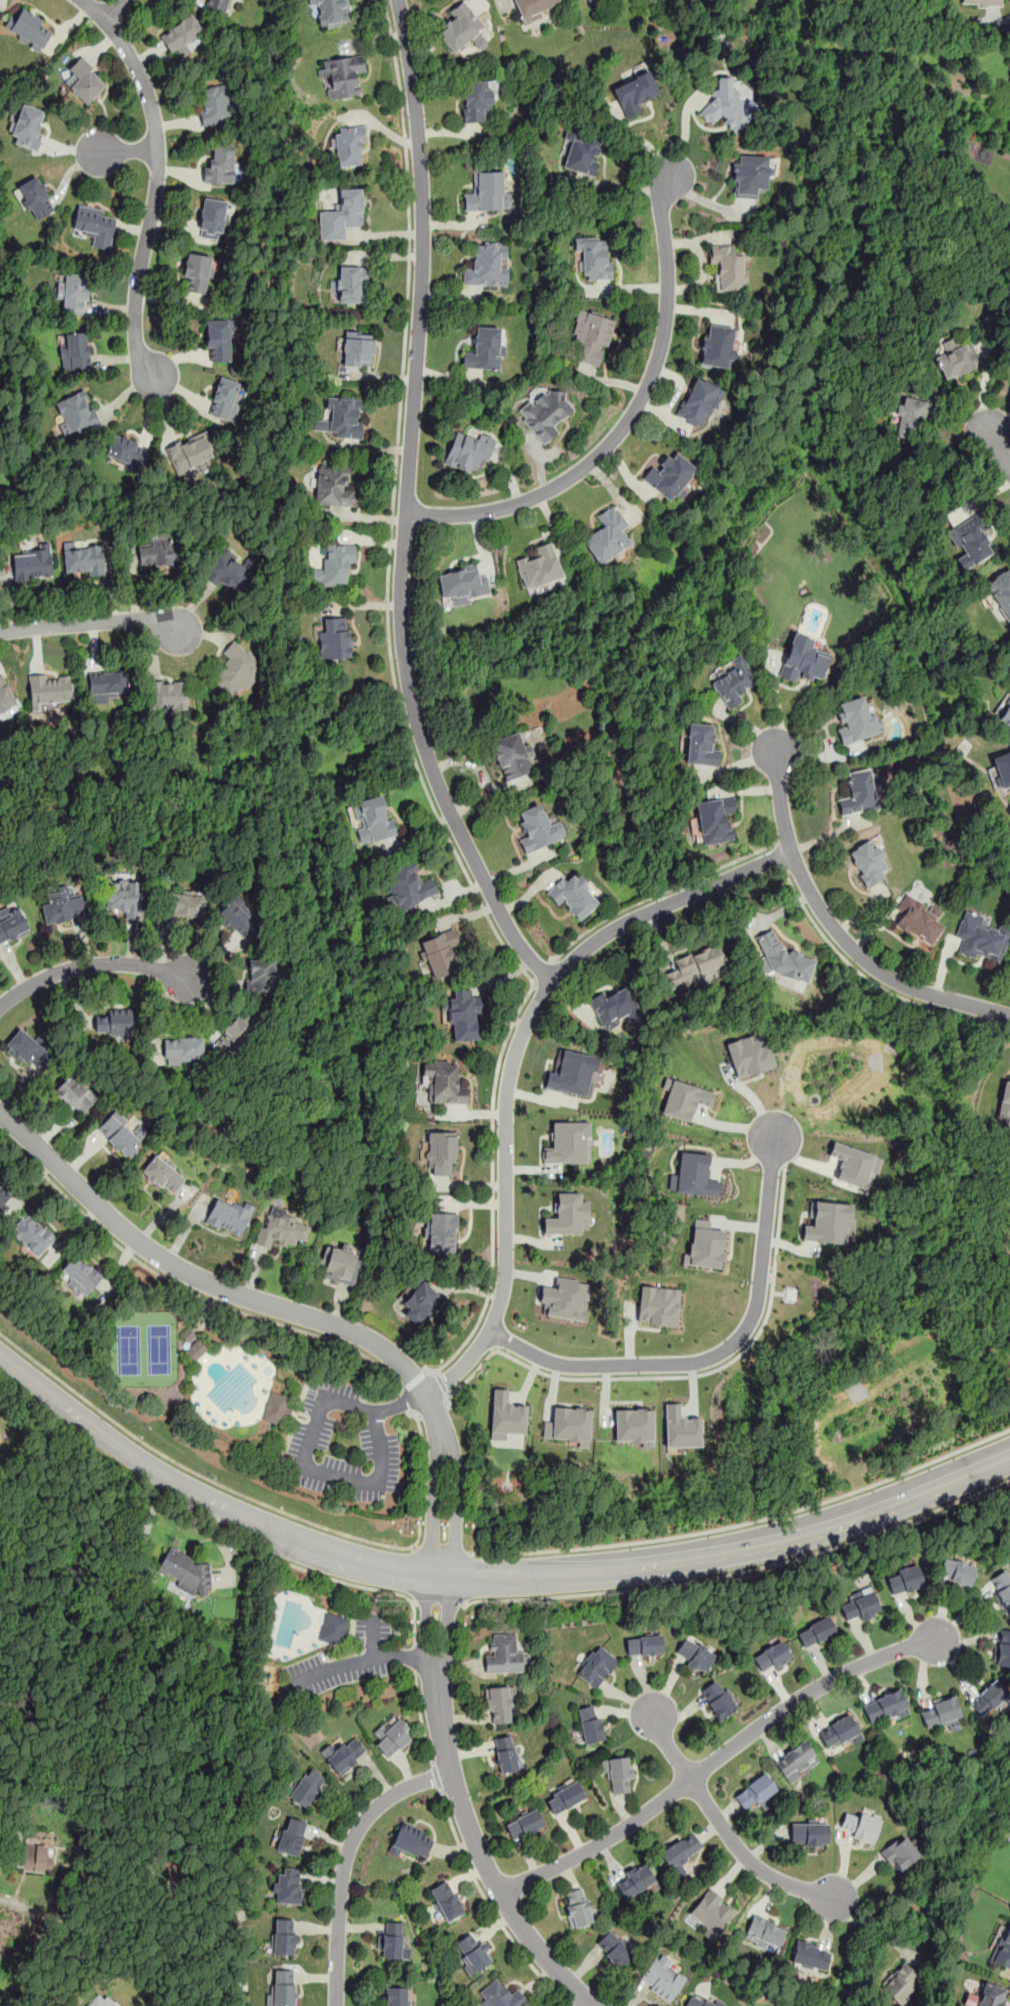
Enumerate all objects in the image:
building: (586, 0)
building: (981, 3)
building: (216, 5)
road: (112, 8)
building: (534, 9)
building: (330, 12)
road: (1000, 18)
building: (460, 28)
building: (28, 29)
building: (181, 35)
building: (341, 76)
building: (84, 82)
building: (634, 93)
building: (476, 101)
building: (215, 105)
building: (727, 106)
building: (27, 126)
building: (348, 147)
road: (127, 151)
building: (582, 152)
building: (220, 165)
building: (750, 175)
road: (156, 182)
building: (487, 193)
building: (35, 198)
road: (709, 203)
building: (342, 216)
building: (212, 219)
building: (95, 226)
building: (594, 257)
building: (487, 265)
building: (727, 268)
building: (196, 274)
building: (351, 285)
building: (73, 293)
building: (219, 338)
building: (591, 339)
building: (718, 346)
building: (358, 350)
building: (485, 350)
building: (74, 351)
building: (956, 359)
building: (225, 399)
building: (698, 402)
building: (545, 412)
building: (75, 414)
building: (913, 416)
building: (342, 418)
road: (628, 419)
road: (1001, 450)
building: (127, 452)
building: (468, 452)
building: (190, 454)
building: (670, 476)
building: (333, 486)
road: (406, 507)
building: (607, 535)
building: (969, 539)
building: (158, 551)
building: (84, 559)
building: (32, 563)
building: (335, 563)
building: (540, 567)
building: (229, 570)
building: (462, 585)
building: (1000, 592)
road: (89, 624)
building: (334, 638)
building: (802, 659)
building: (236, 670)
building: (732, 681)
building: (106, 684)
building: (49, 688)
building: (168, 694)
building: (6, 698)
building: (1004, 711)
road: (401, 718)
building: (858, 720)
building: (700, 745)
building: (511, 756)
building: (1001, 770)
building: (860, 792)
road: (782, 800)
building: (371, 818)
building: (714, 818)
building: (538, 829)
road: (777, 855)
building: (867, 863)
building: (407, 885)
road: (662, 891)
building: (574, 894)
building: (125, 898)
building: (184, 903)
building: (63, 907)
building: (238, 917)
building: (918, 920)
building: (11, 923)
building: (981, 937)
building: (439, 953)
building: (779, 957)
road: (91, 965)
building: (697, 966)
road: (873, 968)
road: (542, 971)
building: (262, 976)
road: (873, 981)
building: (614, 1008)
building: (465, 1015)
building: (113, 1023)
building: (236, 1033)
building: (182, 1048)
building: (29, 1050)
building: (750, 1054)
road: (513, 1060)
building: (571, 1072)
building: (444, 1083)
building: (75, 1094)
building: (683, 1098)
building: (1004, 1100)
building: (120, 1132)
building: (568, 1143)
building: (441, 1151)
building: (850, 1164)
building: (162, 1172)
building: (693, 1175)
building: (4, 1193)
building: (229, 1215)
building: (567, 1215)
building: (827, 1222)
building: (280, 1231)
building: (33, 1234)
building: (443, 1234)
building: (704, 1246)
building: (340, 1263)
building: (82, 1273)
road: (185, 1288)
building: (564, 1298)
building: (420, 1300)
building: (658, 1305)
road: (286, 1309)
park: (143, 1348)
building: (196, 1349)
road: (719, 1352)
road: (677, 1376)
road: (414, 1380)
road: (440, 1382)
road: (381, 1397)
road: (408, 1399)
road: (402, 1402)
building: (277, 1408)
building: (505, 1415)
building: (567, 1424)
building: (634, 1426)
building: (680, 1427)
road: (311, 1469)
road: (254, 1499)
road: (745, 1522)
road: (440, 1550)
road: (742, 1570)
building: (957, 1571)
building: (187, 1572)
road: (482, 1575)
building: (904, 1579)
road: (362, 1585)
building: (1001, 1588)
road: (440, 1601)
building: (860, 1607)
building: (333, 1628)
building: (816, 1633)
building: (644, 1645)
building: (1003, 1648)
building: (505, 1654)
road: (405, 1655)
building: (694, 1655)
road: (414, 1657)
building: (772, 1657)
road: (351, 1661)
building: (596, 1666)
building: (990, 1697)
building: (718, 1698)
building: (499, 1703)
building: (885, 1706)
building: (941, 1712)
road: (420, 1718)
building: (590, 1723)
building: (839, 1731)
building: (392, 1738)
road: (669, 1747)
building: (343, 1754)
building: (505, 1754)
road: (714, 1758)
building: (796, 1760)
building: (617, 1774)
road: (436, 1778)
building: (306, 1786)
building: (756, 1793)
building: (565, 1796)
road: (462, 1809)
building: (524, 1825)
building: (859, 1825)
building: (809, 1832)
building: (291, 1836)
building: (412, 1842)
building: (680, 1850)
building: (899, 1853)
building: (34, 1856)
road: (746, 1859)
road: (345, 1860)
building: (634, 1881)
road: (90, 1885)
building: (286, 1886)
building: (446, 1901)
road: (488, 1907)
building: (578, 1909)
building: (711, 1913)
building: (763, 1931)
building: (284, 1937)
building: (390, 1940)
building: (615, 1948)
building: (1002, 1948)
building: (472, 1952)
building: (810, 1955)
building: (661, 1977)
building: (901, 1984)
building: (282, 1987)
road: (33, 1993)
building: (501, 1995)
building: (990, 1995)
building: (396, 1996)
building: (101, 2001)
building: (699, 2001)

